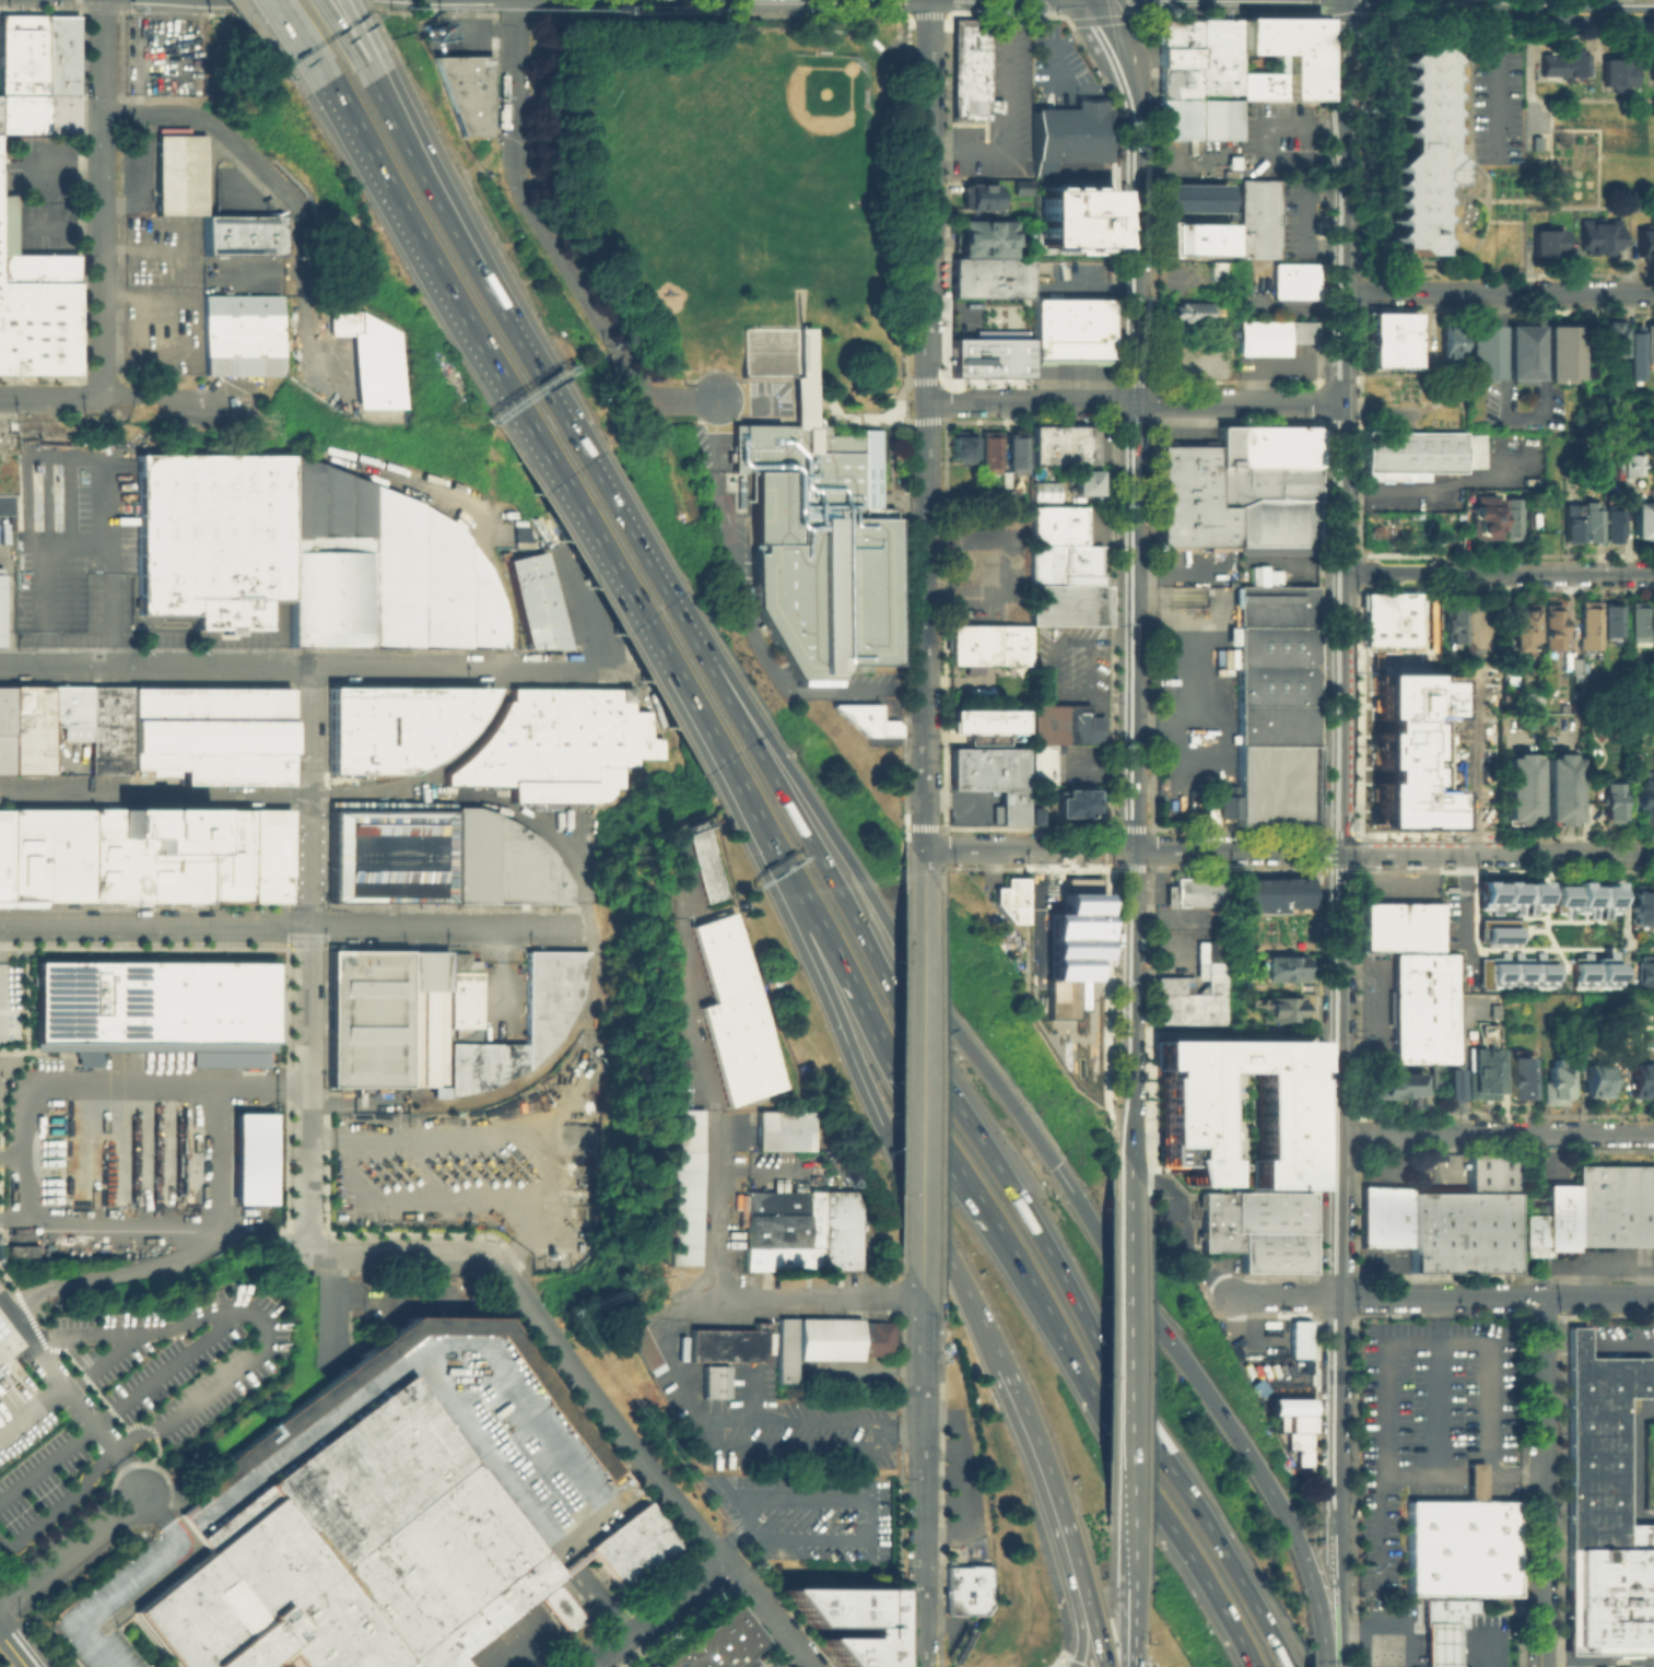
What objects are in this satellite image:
road: (265, 10)
road: (515, 12)
road: (925, 13)
road: (1548, 13)
road: (720, 14)
road: (1008, 14)
building: (1276, 34)
road: (359, 35)
road: (337, 38)
road: (289, 39)
building: (1175, 40)
building: (1206, 54)
building: (1225, 54)
parking lot: (164, 55)
road: (1122, 56)
road: (1529, 57)
road: (1342, 61)
building: (1565, 69)
building: (971, 71)
building: (1653, 71)
road: (1054, 72)
building: (22, 73)
building: (59, 73)
building: (1281, 78)
building: (1618, 78)
road: (1497, 86)
building: (464, 90)
road: (380, 96)
road: (514, 98)
road: (374, 99)
road: (1591, 101)
building: (1190, 106)
road: (1006, 111)
road: (151, 115)
park: (790, 119)
building: (173, 130)
building: (1068, 132)
road: (1259, 138)
road: (928, 140)
road: (1482, 150)
building: (1422, 151)
road: (1549, 154)
road: (1470, 160)
road: (253, 161)
park: (711, 164)
road: (61, 166)
building: (180, 174)
road: (99, 186)
building: (1022, 186)
building: (983, 196)
road: (1112, 196)
building: (1192, 197)
road: (1588, 208)
building: (1258, 218)
road: (59, 226)
building: (1077, 231)
building: (244, 234)
building: (982, 236)
building: (1196, 237)
building: (1602, 239)
building: (1549, 246)
building: (1646, 247)
road: (467, 250)
building: (30, 257)
building: (1218, 270)
building: (988, 277)
building: (1291, 279)
road: (304, 285)
road: (1092, 285)
road: (1500, 292)
road: (583, 296)
building: (1189, 310)
building: (1048, 327)
building: (1088, 327)
building: (37, 328)
building: (241, 334)
building: (1270, 334)
building: (1609, 341)
building: (1394, 342)
building: (1452, 342)
building: (1650, 347)
building: (1564, 353)
building: (1485, 355)
building: (1524, 355)
building: (988, 356)
building: (374, 357)
building: (1634, 359)
road: (99, 383)
road: (149, 396)
road: (5, 399)
road: (56, 399)
road: (1136, 401)
road: (743, 403)
road: (677, 404)
road: (509, 407)
road: (1395, 410)
road: (1521, 415)
building: (7, 442)
building: (1063, 444)
building: (1237, 444)
building: (1287, 444)
building: (963, 445)
building: (990, 450)
building: (1018, 451)
building: (1420, 457)
building: (1630, 463)
road: (597, 470)
building: (1081, 481)
building: (1263, 481)
road: (1427, 488)
building: (1043, 491)
building: (1011, 496)
building: (1170, 497)
building: (1206, 505)
road: (926, 512)
building: (1487, 518)
building: (1640, 520)
building: (1513, 521)
building: (1571, 523)
building: (1055, 524)
building: (1592, 524)
building: (1275, 525)
building: (1614, 525)
building: (812, 527)
building: (520, 532)
parking lot: (74, 544)
building: (304, 554)
road: (486, 555)
building: (1, 570)
road: (1500, 573)
road: (1359, 580)
building: (1065, 584)
road: (1505, 589)
building: (533, 600)
building: (1, 607)
road: (582, 608)
building: (1387, 617)
road: (744, 622)
building: (1612, 624)
building: (1640, 624)
building: (1453, 627)
building: (1521, 627)
building: (1587, 627)
building: (1552, 631)
road: (1134, 632)
building: (988, 647)
building: (1274, 664)
road: (143, 666)
building: (1574, 667)
road: (441, 668)
building: (1527, 701)
building: (4, 708)
building: (70, 711)
road: (1358, 711)
building: (867, 718)
building: (397, 725)
building: (984, 726)
building: (1068, 726)
building: (28, 729)
building: (210, 731)
building: (560, 743)
building: (3, 752)
building: (1404, 752)
building: (1043, 766)
road: (432, 767)
road: (1470, 770)
building: (992, 779)
building: (1271, 784)
building: (1520, 791)
building: (1561, 791)
building: (1643, 795)
road: (924, 796)
road: (155, 797)
building: (1222, 800)
building: (1612, 801)
building: (1076, 805)
building: (1034, 814)
building: (1207, 814)
road: (1351, 833)
road: (1505, 834)
road: (1346, 840)
road: (552, 841)
road: (1358, 842)
road: (1135, 849)
road: (1499, 852)
building: (143, 854)
building: (394, 856)
road: (924, 858)
building: (503, 861)
building: (693, 861)
road: (852, 861)
building: (1199, 893)
building: (1272, 895)
building: (1508, 896)
building: (1582, 897)
building: (1009, 899)
building: (1644, 907)
road: (1463, 908)
building: (1494, 921)
building: (1399, 925)
road: (154, 926)
road: (441, 926)
building: (1064, 930)
building: (1498, 936)
road: (830, 943)
building: (1500, 947)
road: (308, 958)
building: (460, 960)
building: (1518, 967)
building: (1591, 967)
building: (1281, 971)
road: (669, 976)
building: (1645, 976)
road: (1, 982)
building: (1190, 993)
building: (153, 999)
building: (1421, 1007)
building: (1278, 1011)
building: (723, 1012)
building: (434, 1017)
road: (849, 1042)
road: (28, 1053)
building: (1485, 1067)
building: (1521, 1075)
road: (923, 1077)
building: (1598, 1082)
building: (1641, 1082)
building: (1450, 1087)
building: (1557, 1088)
building: (1398, 1089)
building: (1232, 1093)
road: (30, 1113)
road: (969, 1114)
building: (1184, 1114)
building: (776, 1128)
road: (1500, 1134)
road: (14, 1154)
road: (1129, 1154)
road: (368, 1158)
building: (256, 1159)
road: (214, 1160)
parking lot: (469, 1163)
building: (1230, 1172)
building: (1491, 1176)
building: (671, 1189)
road: (706, 1201)
building: (1614, 1210)
road: (15, 1219)
building: (1386, 1221)
building: (1258, 1229)
road: (1178, 1230)
building: (1551, 1230)
building: (769, 1231)
building: (809, 1231)
building: (837, 1231)
building: (1463, 1237)
building: (22, 1249)
road: (399, 1254)
road: (153, 1263)
road: (814, 1296)
road: (1283, 1296)
road: (1497, 1296)
road: (330, 1311)
road: (1154, 1316)
building: (875, 1336)
building: (825, 1337)
building: (1298, 1338)
building: (723, 1341)
road: (11, 1342)
building: (633, 1343)
building: (783, 1348)
road: (668, 1360)
road: (1129, 1361)
road: (102, 1364)
parking lot: (1649, 1371)
road: (234, 1373)
building: (709, 1381)
road: (515, 1383)
parking lot: (118, 1397)
road: (73, 1398)
building: (316, 1400)
parking lot: (753, 1404)
building: (1288, 1405)
road: (120, 1407)
road: (1107, 1409)
road: (740, 1417)
building: (1279, 1421)
road: (845, 1422)
building: (1297, 1422)
road: (621, 1429)
parking lot: (1429, 1436)
road: (806, 1444)
building: (1298, 1446)
road: (1468, 1472)
road: (920, 1476)
road: (953, 1476)
building: (1476, 1481)
road: (1541, 1481)
road: (869, 1495)
road: (1063, 1504)
road: (1047, 1506)
building: (1604, 1510)
parking lot: (806, 1514)
building: (631, 1545)
building: (1462, 1547)
road: (68, 1552)
building: (356, 1556)
road: (1303, 1562)
road: (139, 1578)
building: (965, 1588)
parking lot: (120, 1603)
road: (1340, 1610)
building: (1444, 1610)
road: (655, 1611)
road: (1131, 1611)
building: (849, 1621)
road: (1380, 1632)
road: (786, 1633)
building: (716, 1644)
building: (1438, 1644)
gas station: (1438, 1644)
road: (13, 1650)
road: (1442, 1653)
traffic signals: (1080, 1655)
parking lot: (1607, 1658)
road: (791, 1659)
road: (1054, 1660)
road: (1597, 1662)
road: (1070, 1663)
parking lot: (775, 1664)
building: (643, 1665)

